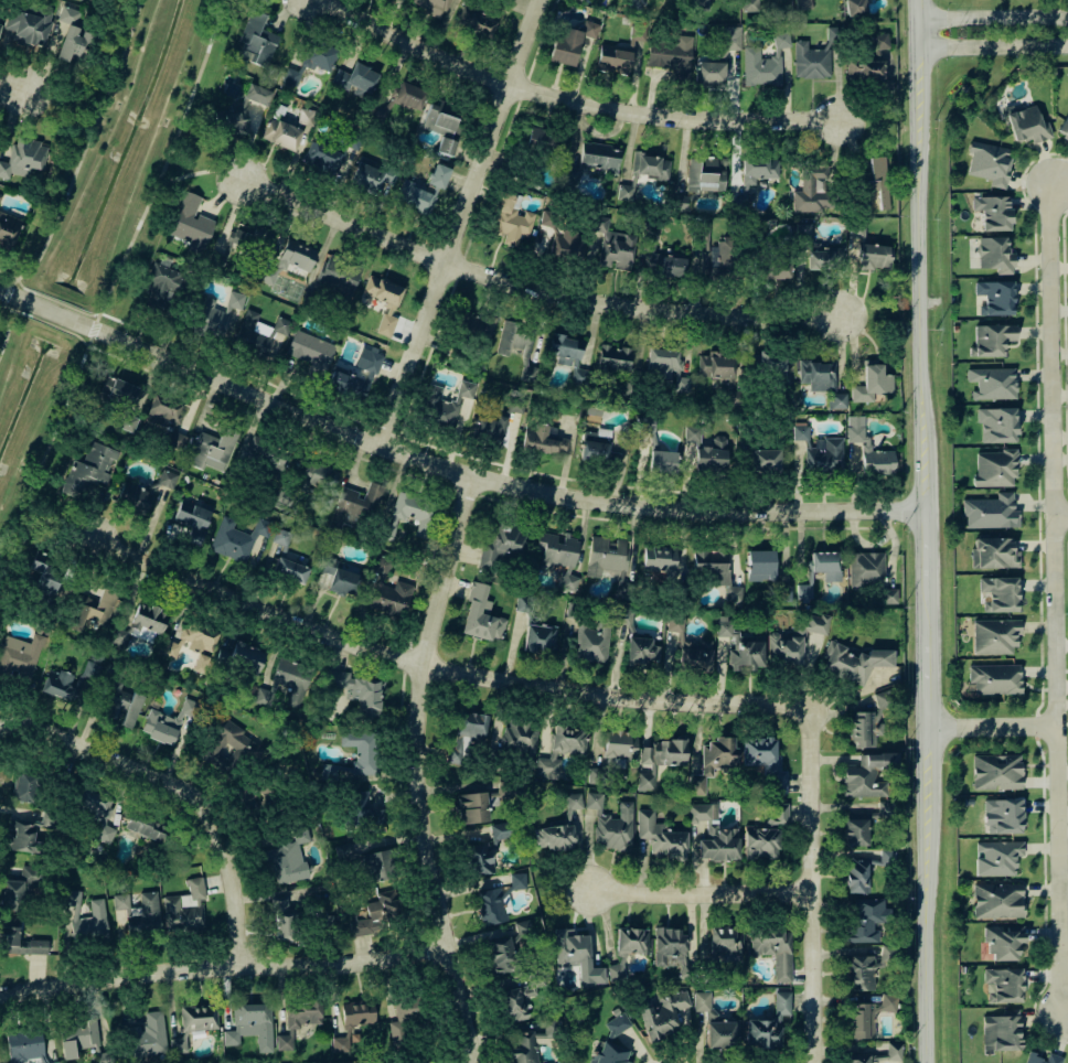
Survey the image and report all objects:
building: (701, 4)
building: (802, 4)
building: (751, 6)
street lamp: (958, 7)
building: (855, 8)
road: (995, 15)
building: (474, 22)
building: (0, 23)
building: (28, 23)
flagpole: (959, 28)
building: (637, 33)
building: (71, 34)
building: (731, 36)
flagpole: (959, 36)
building: (257, 39)
building: (569, 41)
road: (996, 43)
street lamp: (1062, 54)
building: (671, 55)
building: (814, 55)
street lamp: (951, 56)
building: (311, 60)
building: (613, 60)
building: (868, 60)
building: (763, 62)
building: (709, 72)
building: (355, 79)
road: (26, 87)
building: (408, 96)
road: (574, 98)
road: (75, 101)
building: (239, 110)
building: (306, 117)
building: (441, 124)
building: (1028, 125)
building: (1062, 125)
building: (281, 133)
building: (541, 141)
road: (78, 153)
building: (22, 158)
building: (322, 158)
building: (591, 161)
building: (991, 163)
building: (643, 172)
building: (754, 173)
road: (193, 174)
building: (371, 175)
building: (437, 175)
building: (699, 178)
building: (875, 184)
building: (811, 189)
building: (0, 195)
building: (416, 197)
building: (993, 211)
road: (479, 216)
building: (511, 218)
building: (190, 221)
road: (459, 222)
building: (8, 230)
park: (92, 238)
building: (248, 238)
building: (565, 244)
building: (612, 245)
building: (814, 253)
building: (995, 254)
building: (873, 256)
building: (288, 260)
building: (664, 265)
building: (777, 267)
building: (339, 275)
street lamp: (1042, 277)
road: (110, 282)
building: (162, 284)
road: (527, 284)
building: (996, 296)
road: (45, 298)
building: (383, 301)
road: (1, 304)
road: (3, 316)
road: (45, 323)
building: (474, 326)
building: (258, 331)
road: (160, 337)
building: (513, 339)
building: (993, 340)
road: (1065, 343)
building: (310, 352)
road: (108, 354)
building: (570, 357)
building: (612, 358)
building: (714, 365)
building: (666, 367)
building: (528, 373)
building: (816, 374)
building: (355, 376)
building: (872, 383)
building: (990, 384)
building: (121, 393)
building: (836, 400)
building: (445, 404)
building: (515, 404)
street lamp: (1061, 407)
building: (162, 414)
road: (1037, 416)
building: (127, 422)
building: (995, 422)
building: (489, 429)
building: (800, 430)
building: (692, 433)
building: (542, 439)
building: (599, 448)
building: (212, 449)
building: (868, 449)
building: (711, 454)
building: (824, 455)
building: (765, 459)
building: (265, 460)
building: (662, 461)
road: (450, 465)
building: (995, 469)
building: (88, 470)
building: (317, 475)
road: (546, 475)
building: (141, 491)
building: (354, 504)
building: (989, 512)
building: (412, 513)
road: (1061, 517)
road: (674, 519)
road: (931, 530)
street lamp: (1045, 533)
building: (236, 538)
building: (281, 539)
building: (501, 544)
building: (555, 550)
building: (994, 552)
building: (605, 556)
building: (658, 560)
building: (825, 563)
building: (759, 565)
building: (709, 567)
building: (866, 568)
building: (289, 570)
building: (341, 577)
building: (40, 580)
building: (568, 581)
building: (803, 591)
building: (782, 592)
building: (731, 593)
building: (998, 594)
building: (888, 595)
building: (391, 598)
road: (420, 598)
road: (1055, 600)
building: (523, 603)
building: (92, 610)
street lamp: (1064, 614)
building: (481, 615)
building: (622, 615)
building: (139, 623)
building: (815, 623)
building: (541, 637)
building: (994, 637)
building: (594, 640)
building: (193, 643)
building: (740, 646)
building: (690, 648)
building: (784, 648)
building: (641, 651)
building: (19, 656)
building: (242, 657)
building: (853, 662)
road: (437, 666)
building: (67, 681)
building: (286, 681)
building: (993, 681)
building: (356, 690)
street lamp: (1066, 700)
building: (122, 706)
building: (168, 721)
building: (867, 723)
road: (1037, 724)
road: (994, 728)
road: (62, 733)
building: (466, 733)
street lamp: (960, 735)
building: (521, 739)
building: (619, 744)
building: (229, 748)
building: (560, 750)
building: (357, 755)
building: (718, 755)
building: (658, 760)
building: (765, 762)
road: (421, 767)
building: (996, 772)
building: (596, 775)
building: (867, 775)
building: (697, 785)
building: (25, 787)
building: (261, 795)
building: (573, 801)
building: (472, 807)
building: (884, 808)
building: (361, 809)
building: (97, 814)
building: (777, 814)
building: (1004, 815)
building: (611, 824)
building: (146, 827)
building: (855, 831)
building: (24, 833)
road: (226, 835)
building: (555, 835)
building: (714, 835)
building: (660, 836)
street lamp: (1049, 838)
building: (760, 842)
building: (487, 849)
building: (289, 858)
building: (997, 858)
building: (375, 865)
building: (856, 876)
building: (517, 881)
road: (816, 883)
building: (19, 888)
road: (705, 891)
road: (1045, 900)
building: (997, 901)
building: (490, 905)
building: (185, 908)
building: (140, 912)
building: (380, 913)
building: (85, 919)
building: (282, 919)
building: (866, 919)
building: (20, 943)
building: (726, 943)
building: (1003, 944)
building: (508, 948)
building: (628, 948)
building: (672, 951)
building: (773, 951)
building: (577, 956)
street lamp: (1050, 963)
road: (227, 965)
building: (861, 971)
building: (1003, 985)
road: (2, 992)
building: (519, 995)
building: (357, 1012)
road: (1067, 1012)
building: (868, 1016)
building: (403, 1019)
building: (298, 1020)
building: (193, 1023)
building: (616, 1023)
building: (714, 1023)
building: (768, 1023)
building: (250, 1024)
building: (1001, 1032)
building: (148, 1035)
building: (77, 1037)
building: (342, 1040)
building: (533, 1041)
building: (24, 1044)
building: (893, 1050)
building: (611, 1053)
building: (858, 1057)
building: (1040, 1057)
building: (53, 1062)

